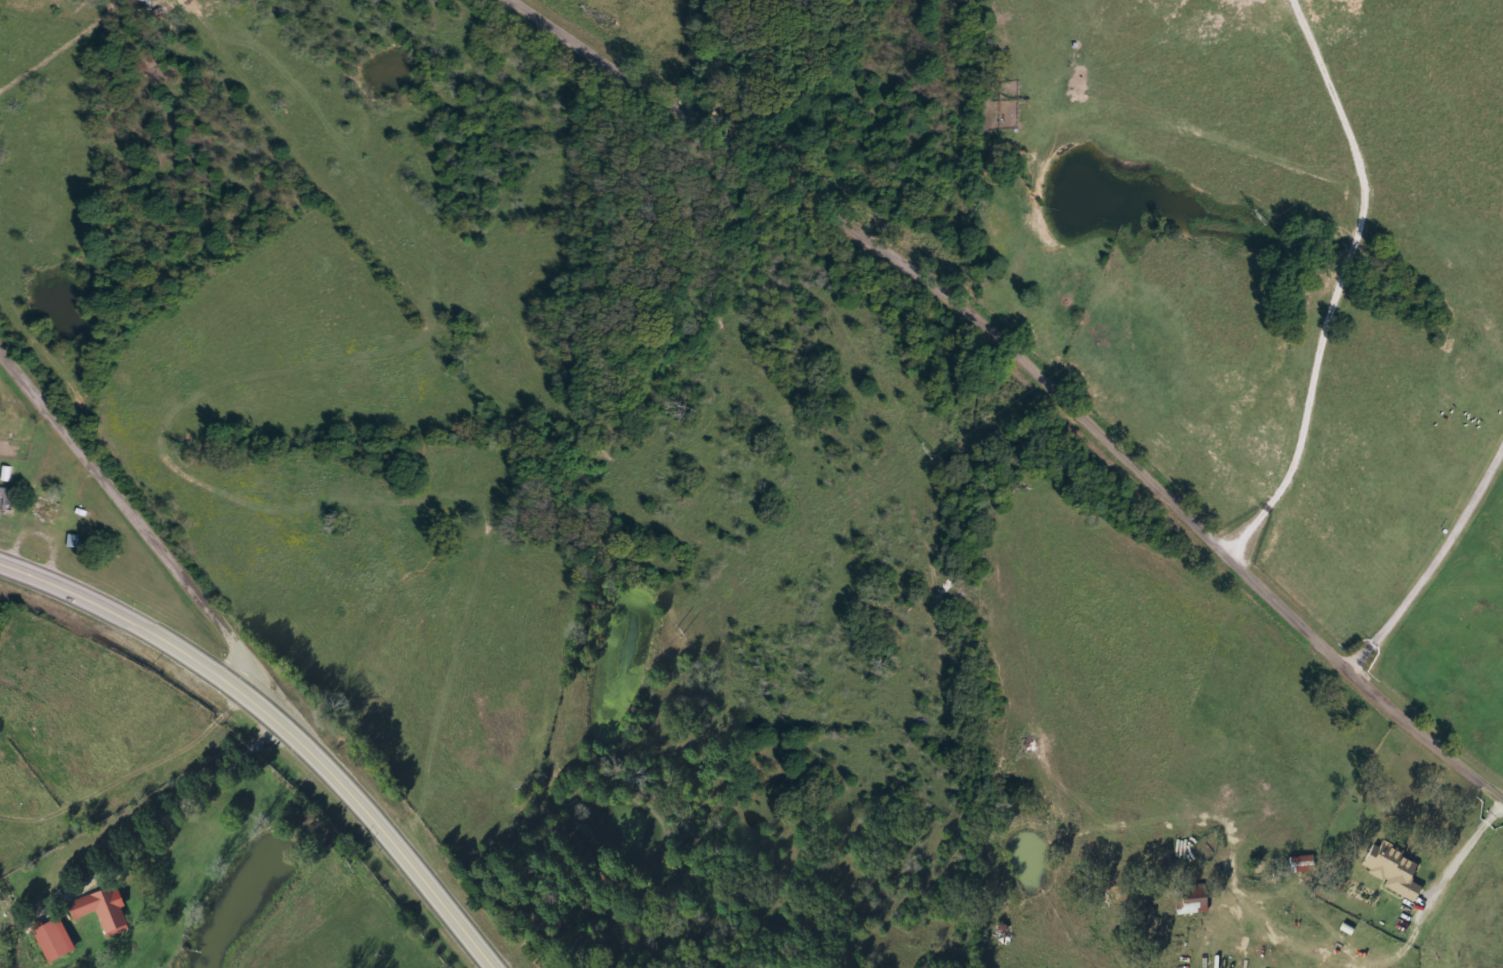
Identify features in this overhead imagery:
power tower: (1268, 218)
road: (1031, 370)
power tower: (934, 453)
building: (6, 498)
road: (139, 519)
building: (77, 540)
power tower: (678, 635)
road: (275, 722)
road: (149, 804)
building: (1303, 865)
power tower: (344, 868)
building: (1396, 870)
building: (1195, 902)
building: (105, 911)
building: (56, 940)

